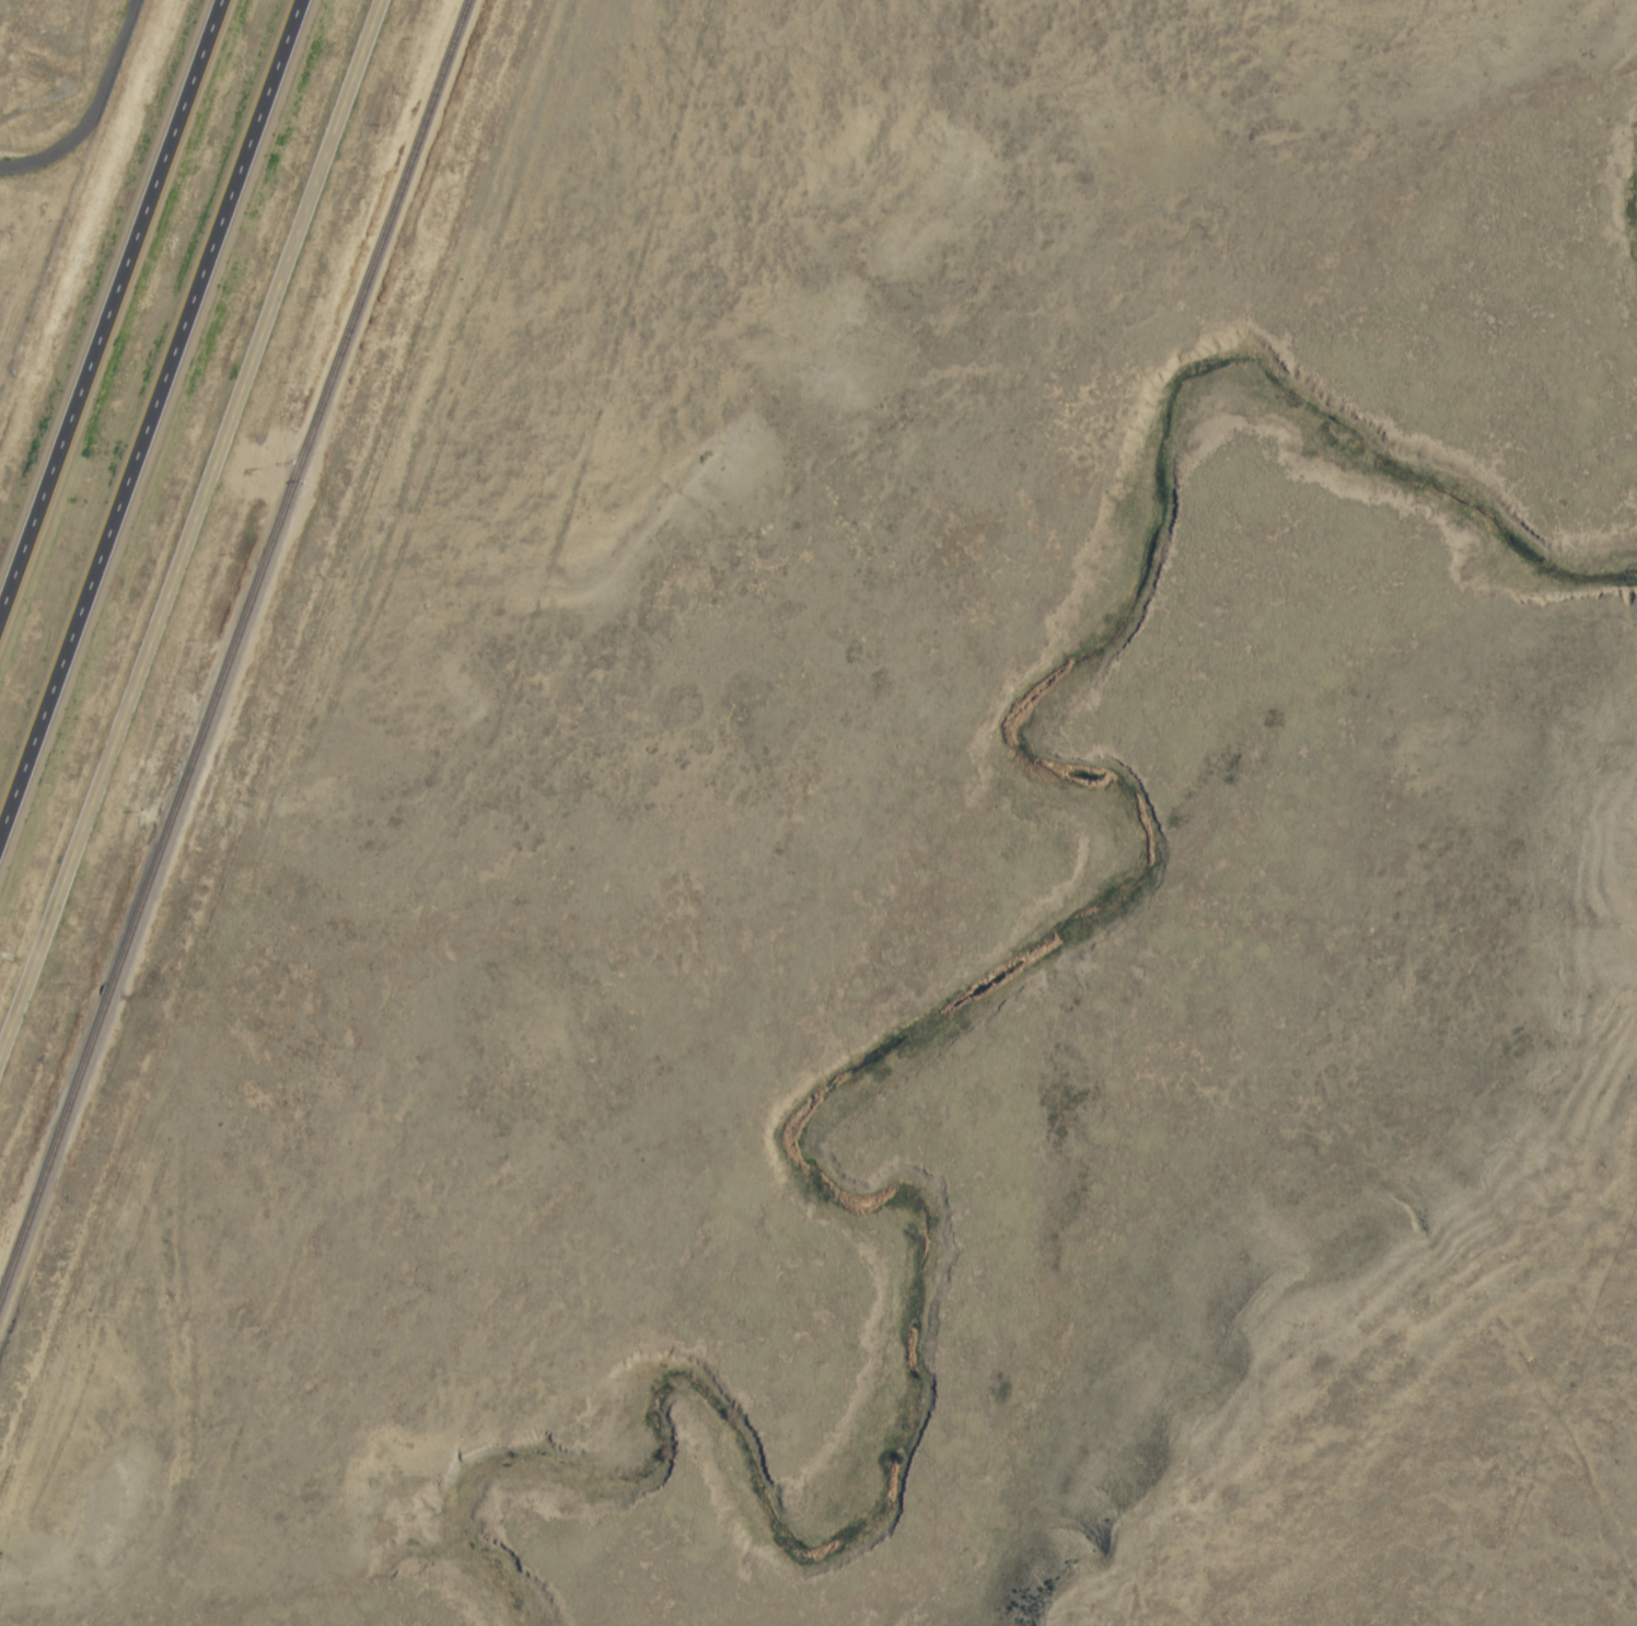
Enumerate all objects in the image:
road: (92, 106)
road: (108, 303)
road: (153, 423)
railway: (289, 492)
road: (179, 497)
railway: (109, 992)
railway: (53, 1145)

